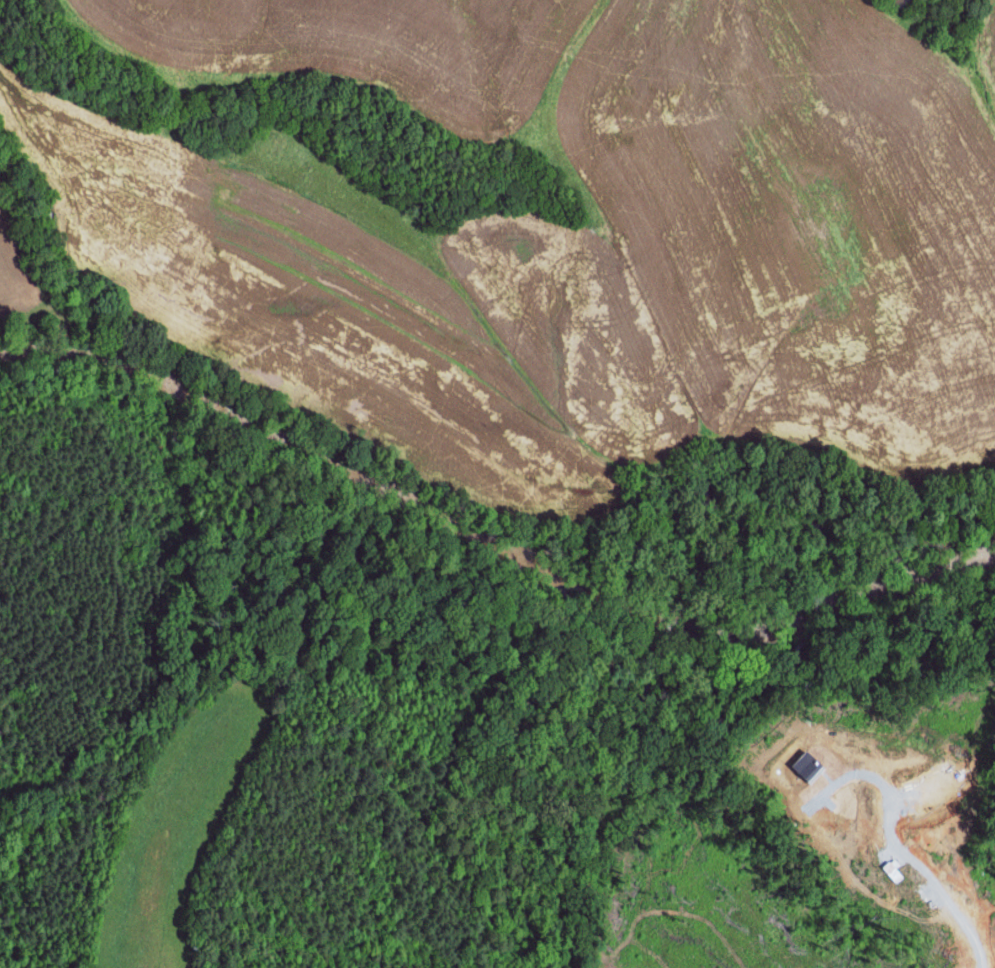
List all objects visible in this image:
road: (904, 850)

